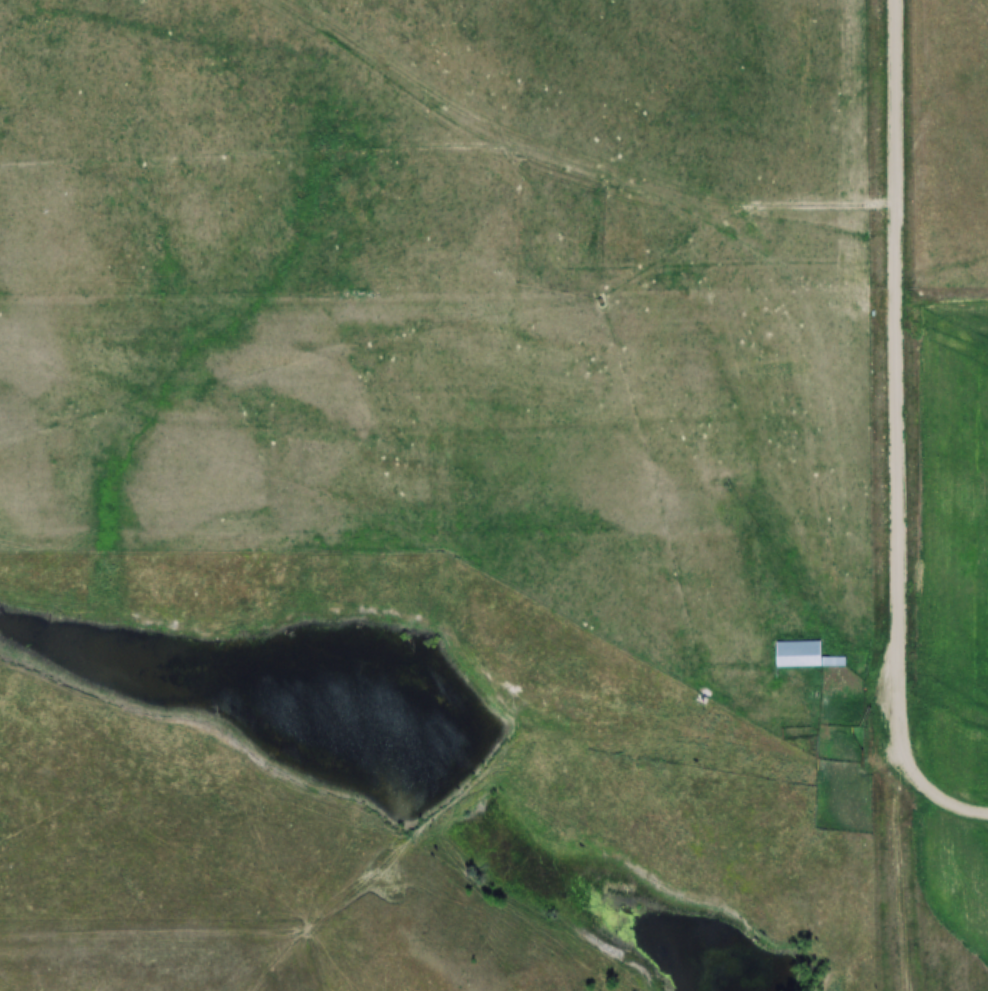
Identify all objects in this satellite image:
road: (903, 498)
building: (803, 655)

